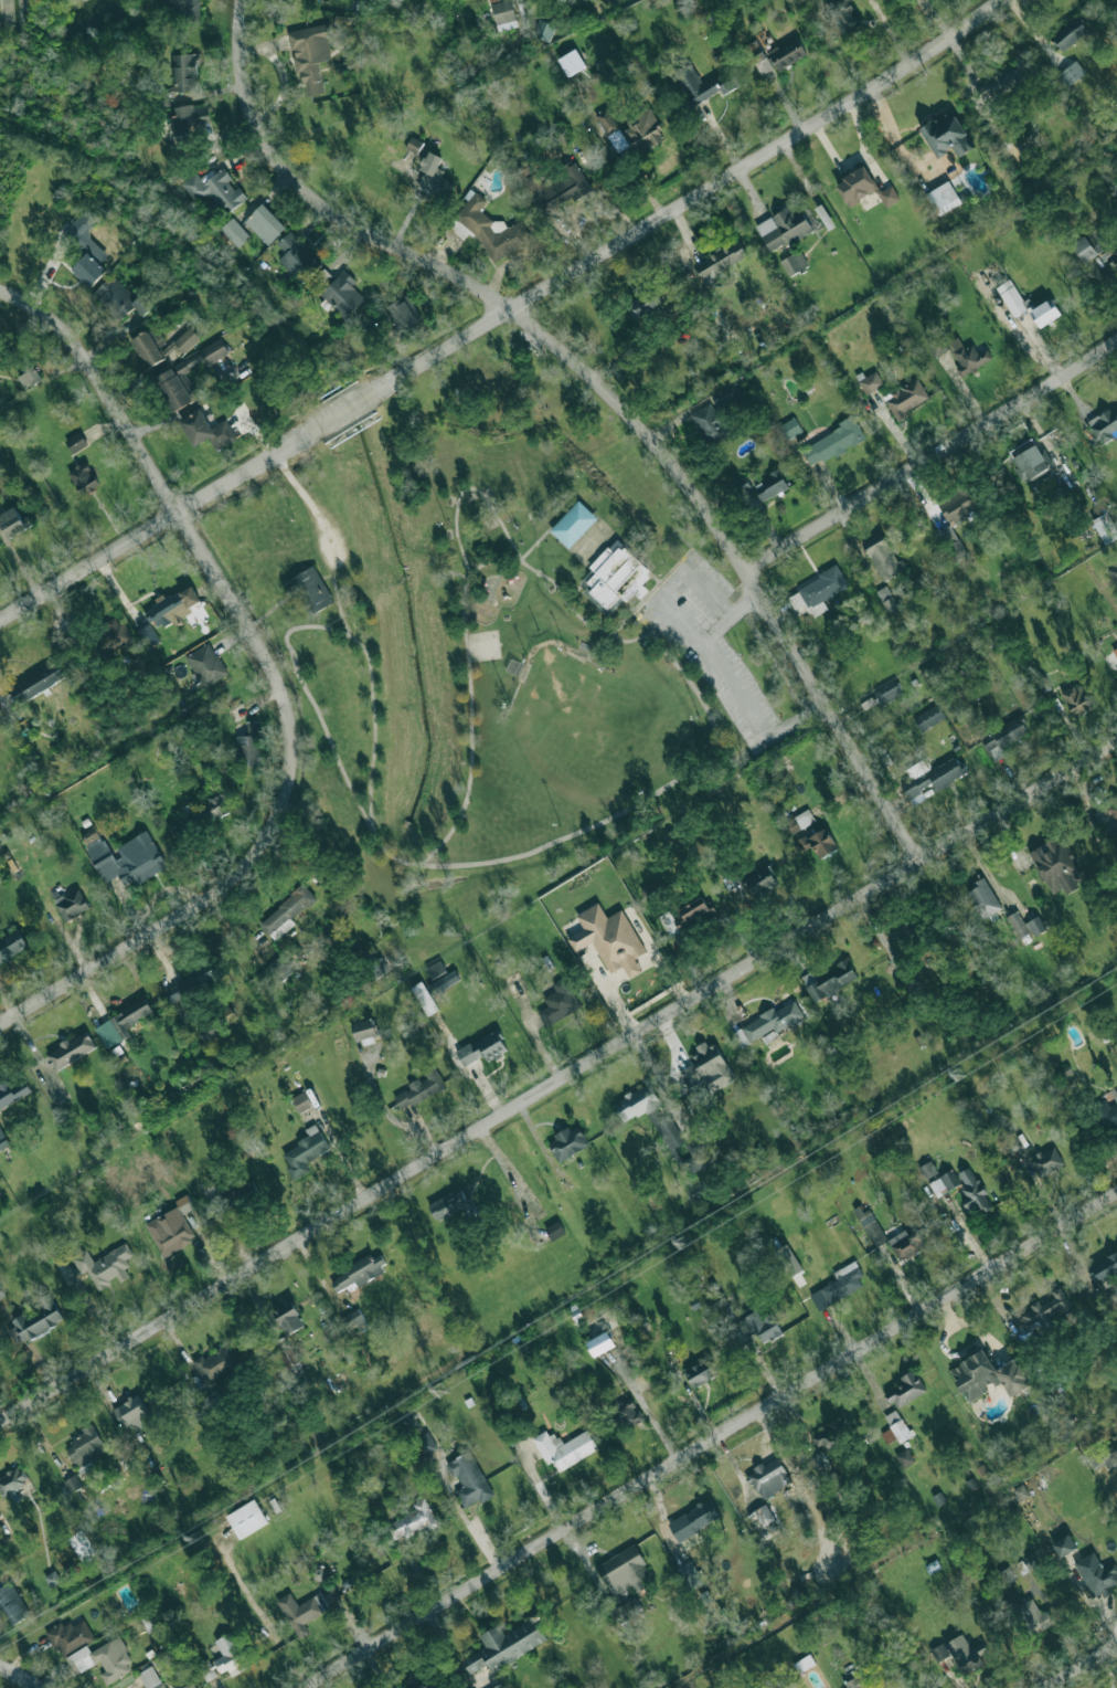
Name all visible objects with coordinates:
building: (184, 7)
building: (504, 15)
building: (843, 15)
building: (544, 30)
building: (1070, 33)
building: (787, 53)
building: (311, 56)
building: (762, 63)
building: (185, 73)
building: (1072, 74)
building: (1000, 83)
building: (702, 84)
building: (188, 123)
building: (611, 130)
building: (642, 131)
building: (947, 135)
building: (414, 145)
building: (523, 171)
building: (435, 178)
building: (864, 188)
building: (215, 190)
building: (944, 198)
road: (316, 200)
road: (685, 201)
building: (265, 224)
building: (784, 228)
building: (492, 230)
building: (235, 232)
building: (1089, 245)
building: (87, 247)
building: (1113, 256)
building: (298, 259)
building: (720, 260)
building: (795, 263)
building: (342, 294)
building: (118, 298)
building: (642, 305)
building: (1028, 305)
building: (404, 314)
building: (187, 339)
building: (938, 345)
building: (149, 347)
building: (173, 350)
building: (968, 356)
building: (171, 374)
building: (30, 378)
building: (871, 382)
road: (100, 388)
building: (906, 399)
road: (342, 411)
building: (711, 424)
building: (1105, 426)
building: (790, 429)
building: (206, 431)
building: (76, 443)
building: (833, 443)
road: (932, 457)
building: (1029, 460)
building: (84, 478)
building: (770, 486)
road: (468, 488)
building: (959, 504)
road: (159, 521)
building: (12, 523)
building: (574, 524)
building: (1106, 528)
road: (549, 529)
building: (953, 544)
building: (882, 556)
road: (741, 563)
building: (1114, 572)
road: (459, 573)
building: (616, 576)
road: (656, 578)
road: (317, 581)
road: (667, 585)
building: (310, 591)
building: (818, 591)
road: (574, 592)
road: (705, 594)
building: (887, 600)
road: (639, 604)
building: (173, 606)
road: (629, 606)
road: (730, 619)
park: (498, 623)
building: (111, 636)
building: (149, 636)
road: (545, 644)
parking lot: (712, 645)
park: (483, 646)
building: (1115, 651)
building: (205, 664)
road: (278, 677)
building: (36, 683)
road: (736, 692)
building: (882, 695)
building: (1076, 700)
building: (928, 717)
park: (577, 724)
building: (1003, 738)
building: (249, 745)
building: (933, 776)
road: (629, 808)
building: (202, 813)
building: (1107, 813)
building: (798, 822)
building: (819, 842)
building: (124, 856)
power tower: (919, 861)
building: (1056, 864)
building: (760, 879)
building: (983, 897)
building: (71, 904)
building: (286, 912)
building: (690, 912)
building: (1025, 925)
building: (609, 939)
building: (12, 946)
road: (129, 948)
building: (280, 968)
building: (436, 969)
building: (830, 980)
building: (192, 982)
building: (424, 998)
building: (558, 1002)
building: (763, 1022)
building: (121, 1023)
building: (364, 1028)
building: (210, 1030)
building: (482, 1048)
building: (72, 1049)
building: (706, 1068)
power tower: (961, 1076)
road: (558, 1079)
road: (660, 1082)
building: (419, 1089)
building: (13, 1091)
building: (301, 1101)
building: (1106, 1116)
road: (393, 1118)
building: (663, 1127)
power tower: (871, 1130)
building: (3, 1140)
building: (1011, 1142)
building: (567, 1143)
building: (305, 1151)
building: (1046, 1161)
building: (927, 1170)
building: (944, 1183)
building: (974, 1192)
building: (183, 1203)
building: (448, 1204)
building: (872, 1227)
building: (170, 1231)
building: (554, 1231)
power tower: (684, 1244)
building: (906, 1244)
building: (788, 1260)
building: (103, 1265)
building: (1104, 1266)
building: (359, 1273)
building: (839, 1285)
building: (1044, 1309)
building: (39, 1318)
building: (288, 1318)
building: (352, 1320)
building: (760, 1326)
building: (600, 1343)
building: (288, 1359)
building: (216, 1363)
building: (701, 1372)
building: (987, 1375)
building: (906, 1389)
power tower: (440, 1390)
building: (132, 1412)
building: (621, 1413)
building: (897, 1425)
building: (831, 1435)
building: (887, 1436)
road: (711, 1441)
building: (86, 1447)
building: (564, 1447)
building: (905, 1457)
building: (1104, 1458)
building: (823, 1467)
building: (769, 1478)
building: (468, 1479)
building: (12, 1480)
building: (73, 1484)
building: (760, 1518)
building: (247, 1519)
building: (413, 1520)
building: (693, 1520)
power tower: (200, 1537)
building: (1064, 1545)
building: (1032, 1559)
building: (624, 1570)
building: (690, 1573)
building: (1096, 1574)
building: (52, 1579)
building: (11, 1604)
building: (307, 1608)
building: (626, 1610)
building: (1034, 1616)
building: (70, 1637)
building: (506, 1645)
building: (226, 1650)
building: (962, 1653)
building: (105, 1659)
road: (1082, 1666)
building: (208, 1671)
road: (20, 1676)
building: (150, 1678)
building: (416, 1681)
building: (857, 1681)
building: (189, 1685)

